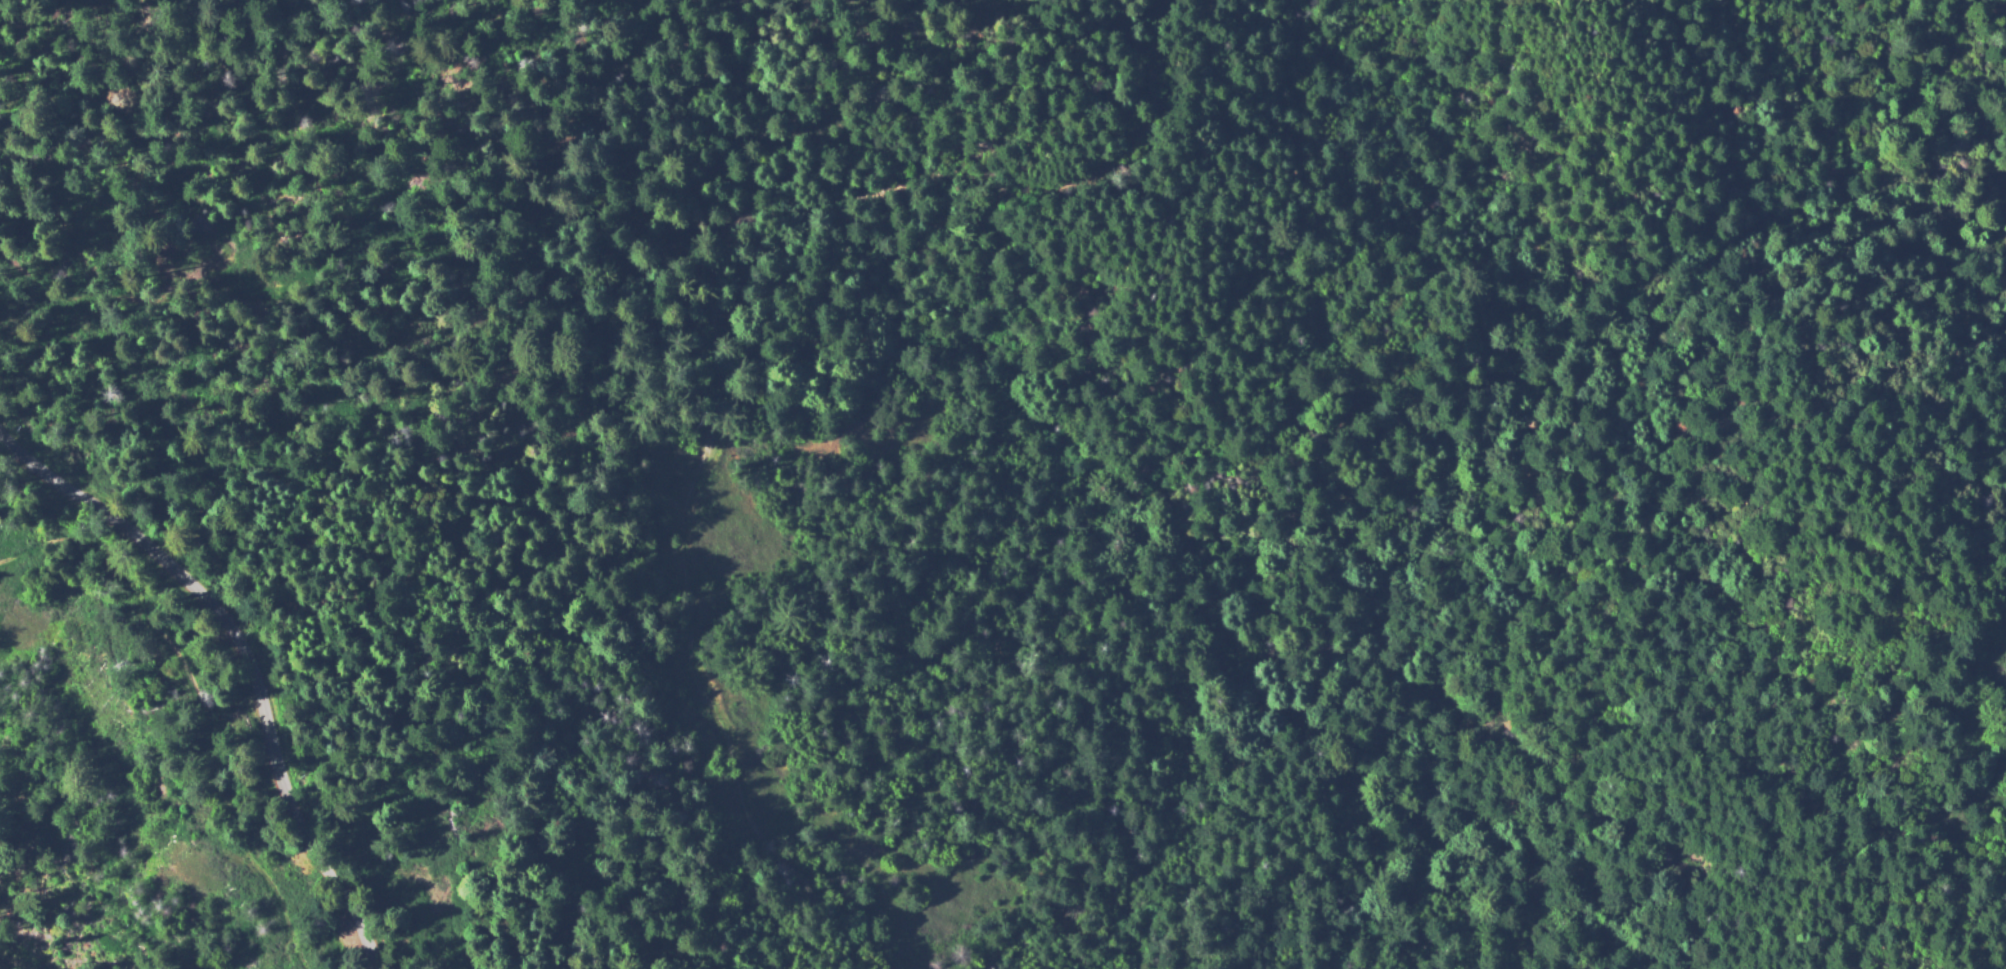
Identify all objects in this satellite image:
road: (247, 651)

